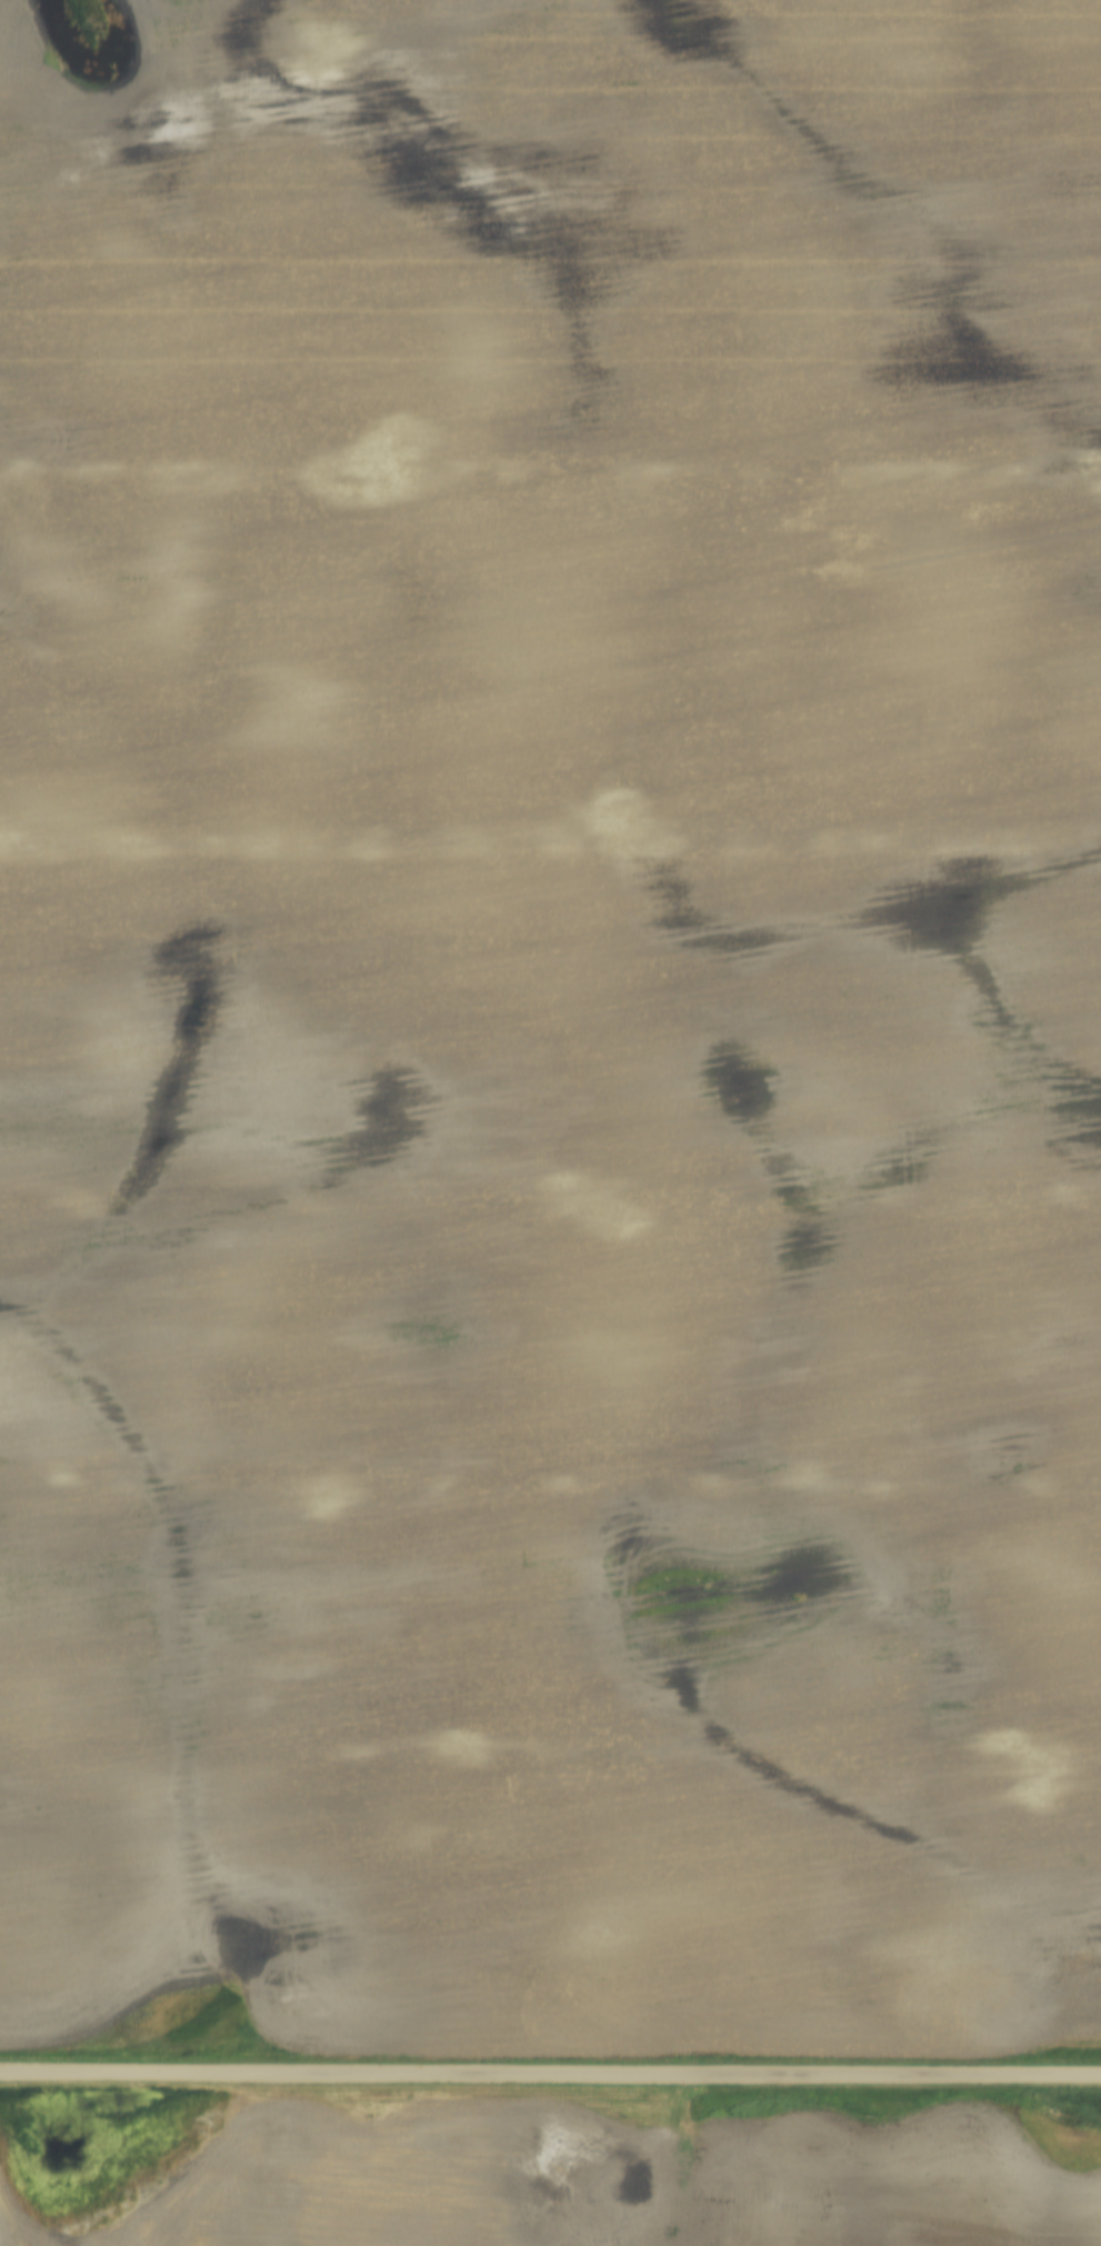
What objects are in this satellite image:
road: (550, 2082)

